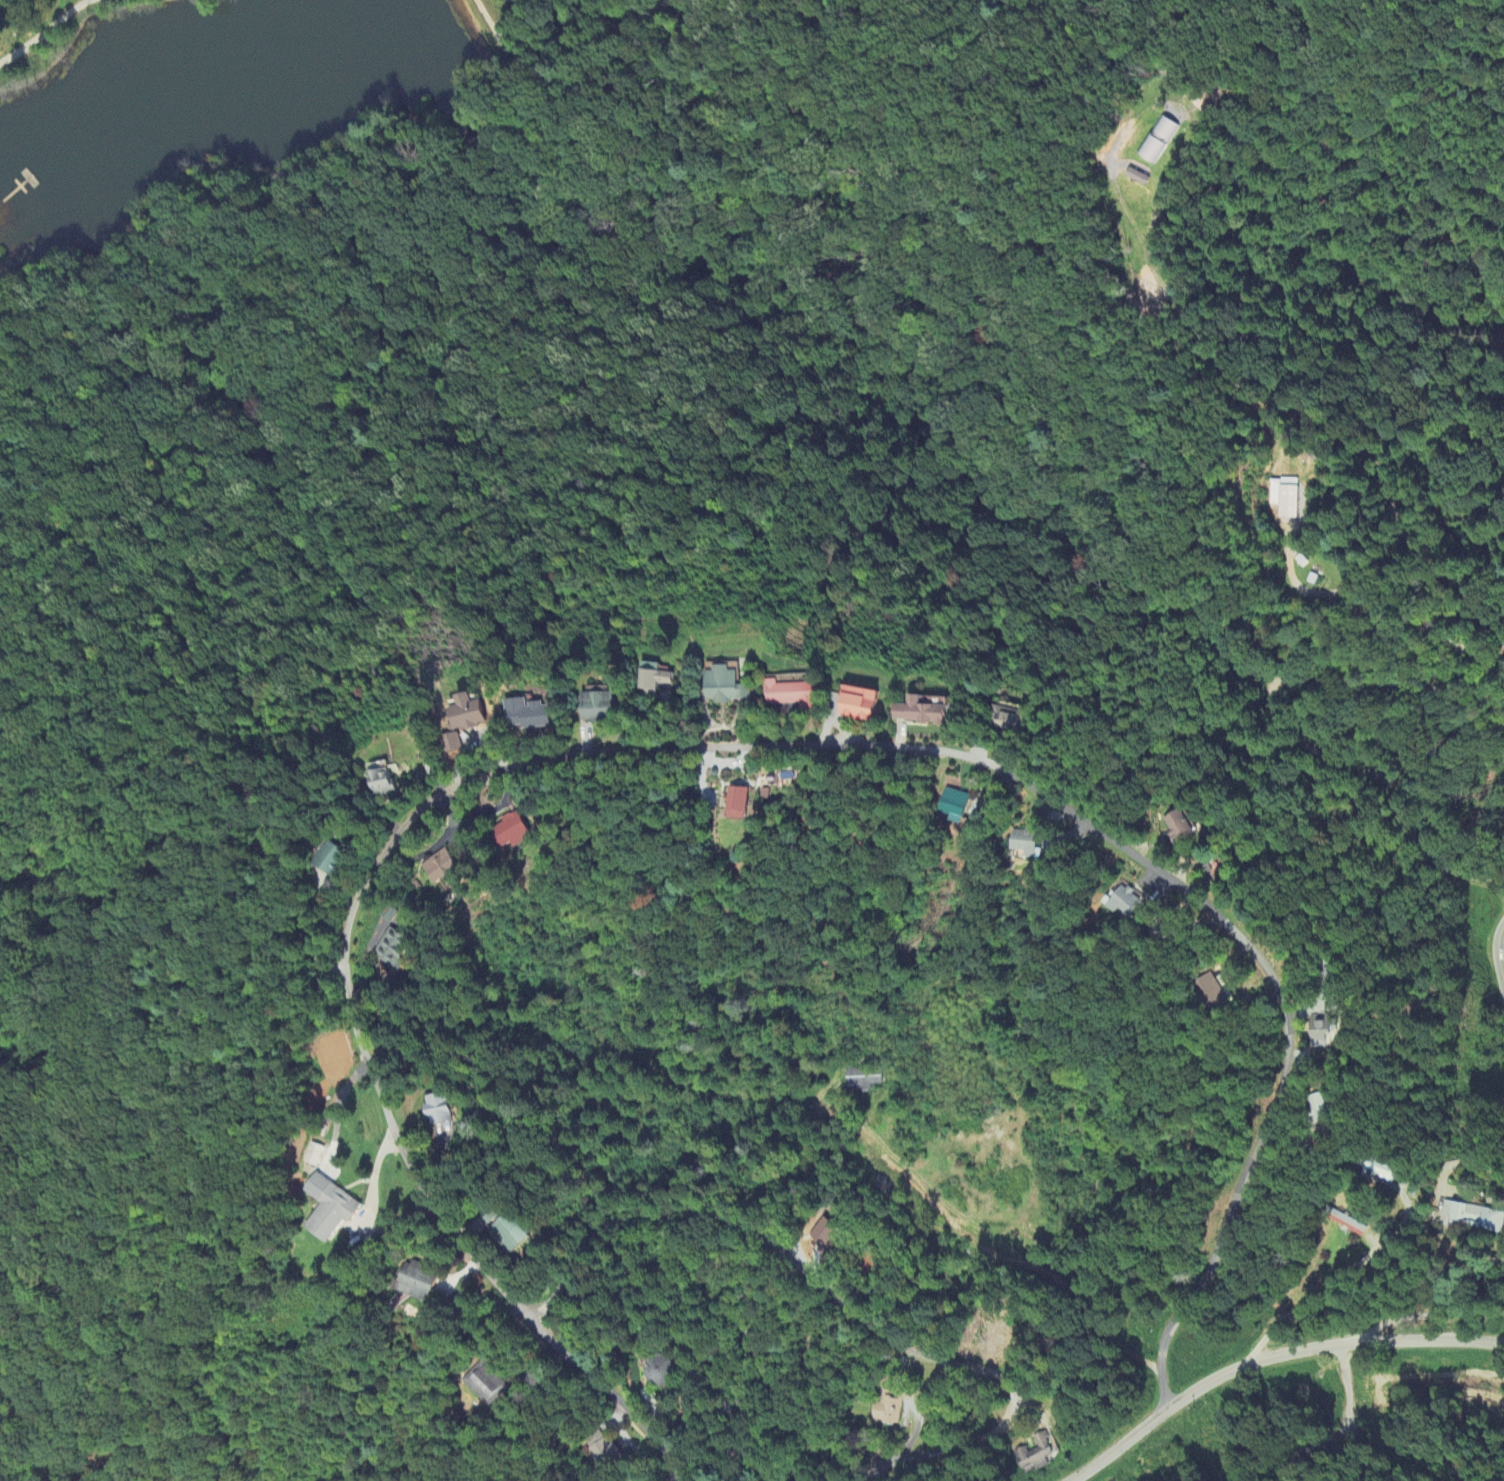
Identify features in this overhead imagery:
road: (42, 28)
road: (573, 54)
building: (1157, 143)
pier: (30, 178)
pier: (18, 189)
road: (1335, 429)
building: (1283, 498)
road: (1425, 629)
building: (653, 682)
building: (720, 687)
building: (785, 695)
building: (851, 704)
building: (591, 706)
building: (912, 712)
building: (457, 713)
building: (518, 714)
building: (999, 720)
road: (1283, 728)
road: (717, 748)
building: (371, 783)
building: (735, 804)
building: (950, 805)
building: (1178, 827)
building: (506, 832)
building: (1024, 844)
building: (318, 858)
building: (436, 866)
building: (1123, 902)
building: (391, 949)
road: (1503, 958)
building: (1211, 994)
building: (1319, 1032)
building: (864, 1079)
building: (1320, 1109)
building: (435, 1110)
building: (312, 1156)
building: (1381, 1173)
building: (326, 1209)
building: (1471, 1219)
building: (1346, 1223)
road: (949, 1225)
building: (506, 1235)
building: (821, 1235)
building: (417, 1283)
road: (843, 1303)
road: (1471, 1324)
road: (1272, 1358)
building: (485, 1385)
building: (888, 1411)
road: (1341, 1431)
building: (1035, 1455)

